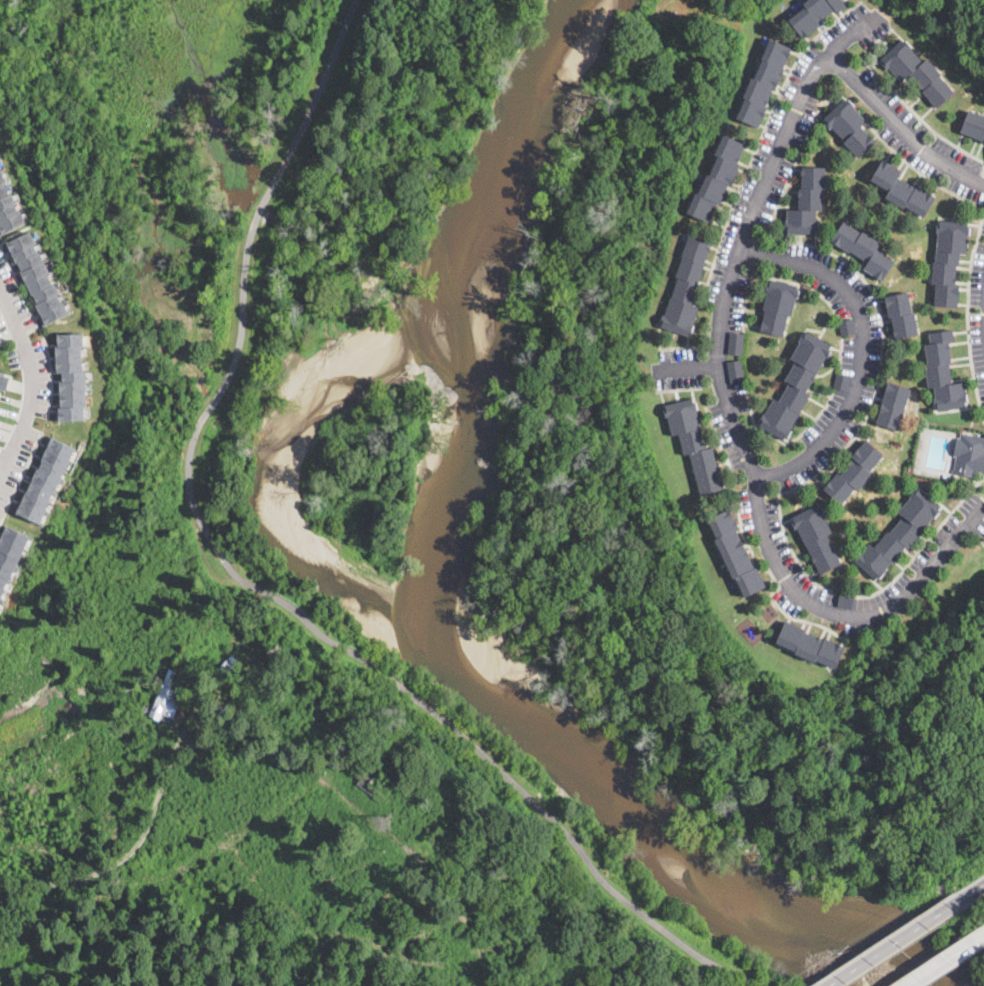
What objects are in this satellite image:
building: (814, 14)
park: (957, 23)
road: (847, 35)
building: (917, 71)
building: (764, 82)
building: (974, 125)
road: (898, 126)
building: (850, 127)
river: (525, 172)
building: (717, 179)
park: (281, 185)
building: (901, 189)
building: (807, 202)
building: (8, 208)
building: (864, 249)
building: (949, 260)
building: (37, 277)
building: (686, 288)
building: (778, 306)
building: (901, 314)
building: (848, 327)
building: (1, 340)
building: (735, 343)
building: (0, 346)
road: (862, 348)
building: (735, 371)
building: (943, 372)
building: (71, 376)
road: (35, 379)
building: (3, 380)
building: (841, 381)
building: (796, 386)
building: (893, 406)
road: (739, 435)
building: (694, 444)
building: (969, 455)
building: (854, 472)
river: (441, 476)
building: (45, 479)
building: (899, 533)
building: (817, 537)
building: (11, 552)
building: (735, 553)
road: (256, 586)
building: (846, 600)
building: (810, 645)
building: (230, 662)
building: (164, 696)
building: (300, 714)
road: (214, 719)
park: (469, 776)
river: (633, 816)
road: (121, 859)
road: (977, 891)
road: (899, 940)
road: (946, 961)

